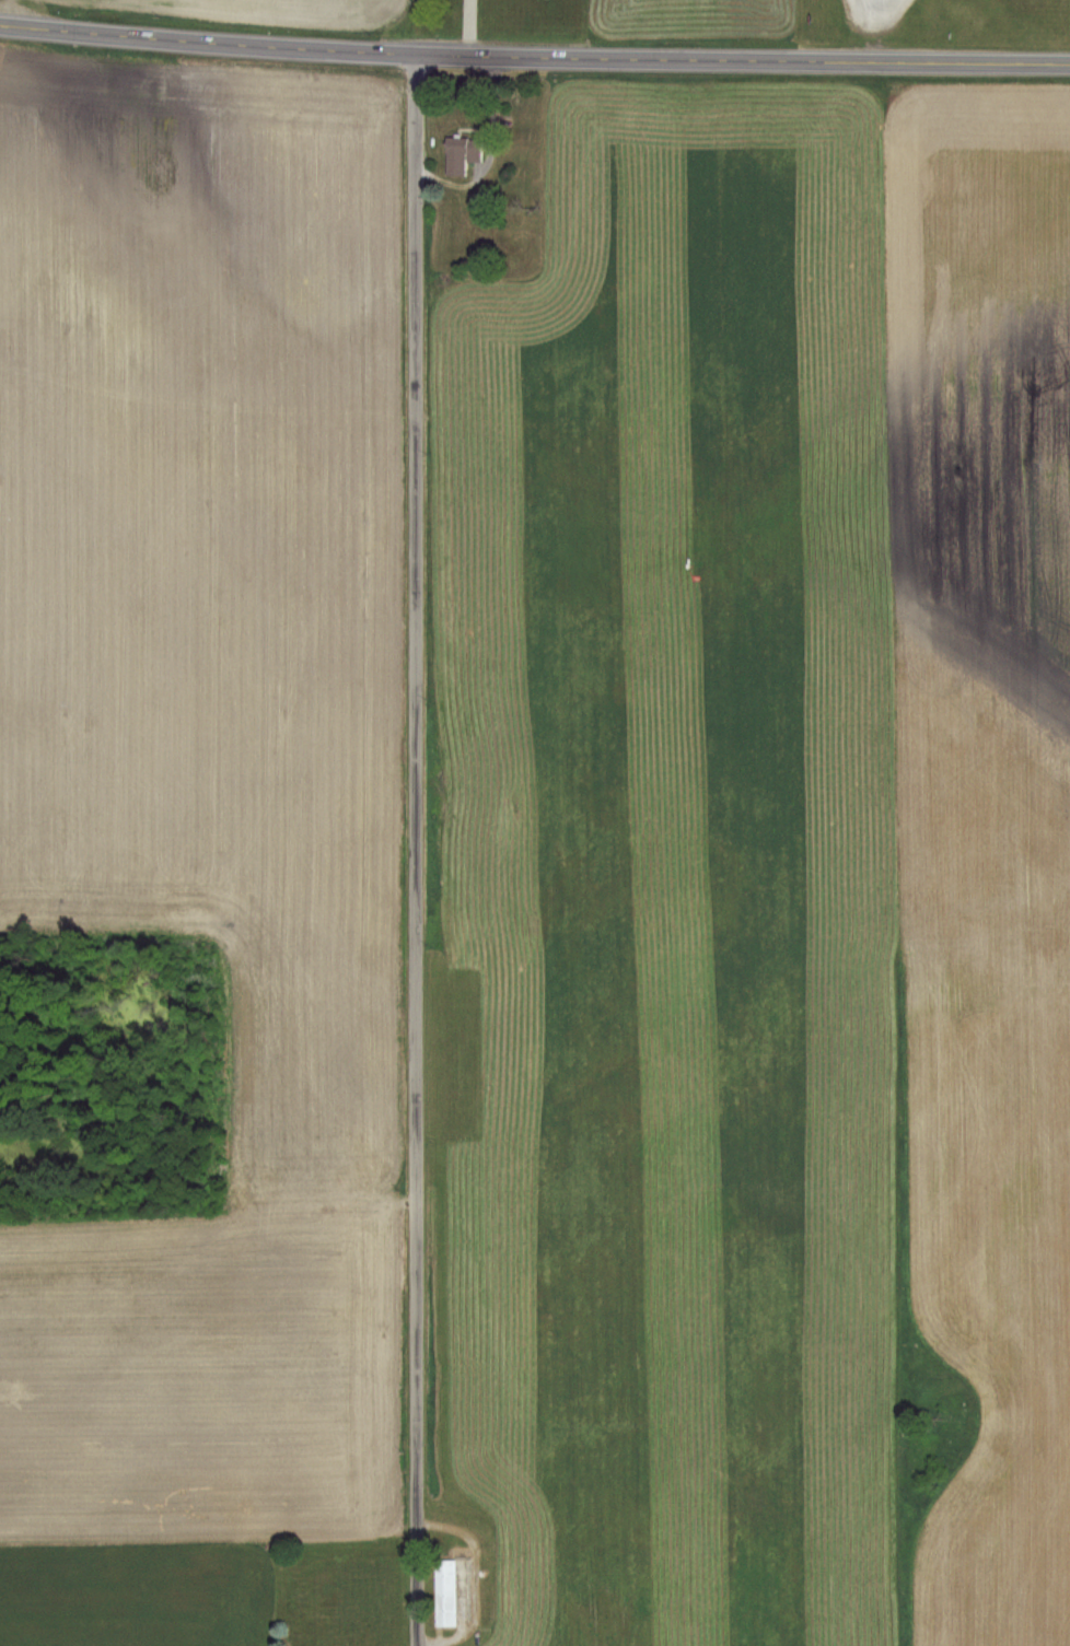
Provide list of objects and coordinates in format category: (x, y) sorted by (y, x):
road: (462, 28)
road: (534, 57)
road: (480, 152)
building: (460, 154)
road: (408, 851)
building: (444, 1592)

